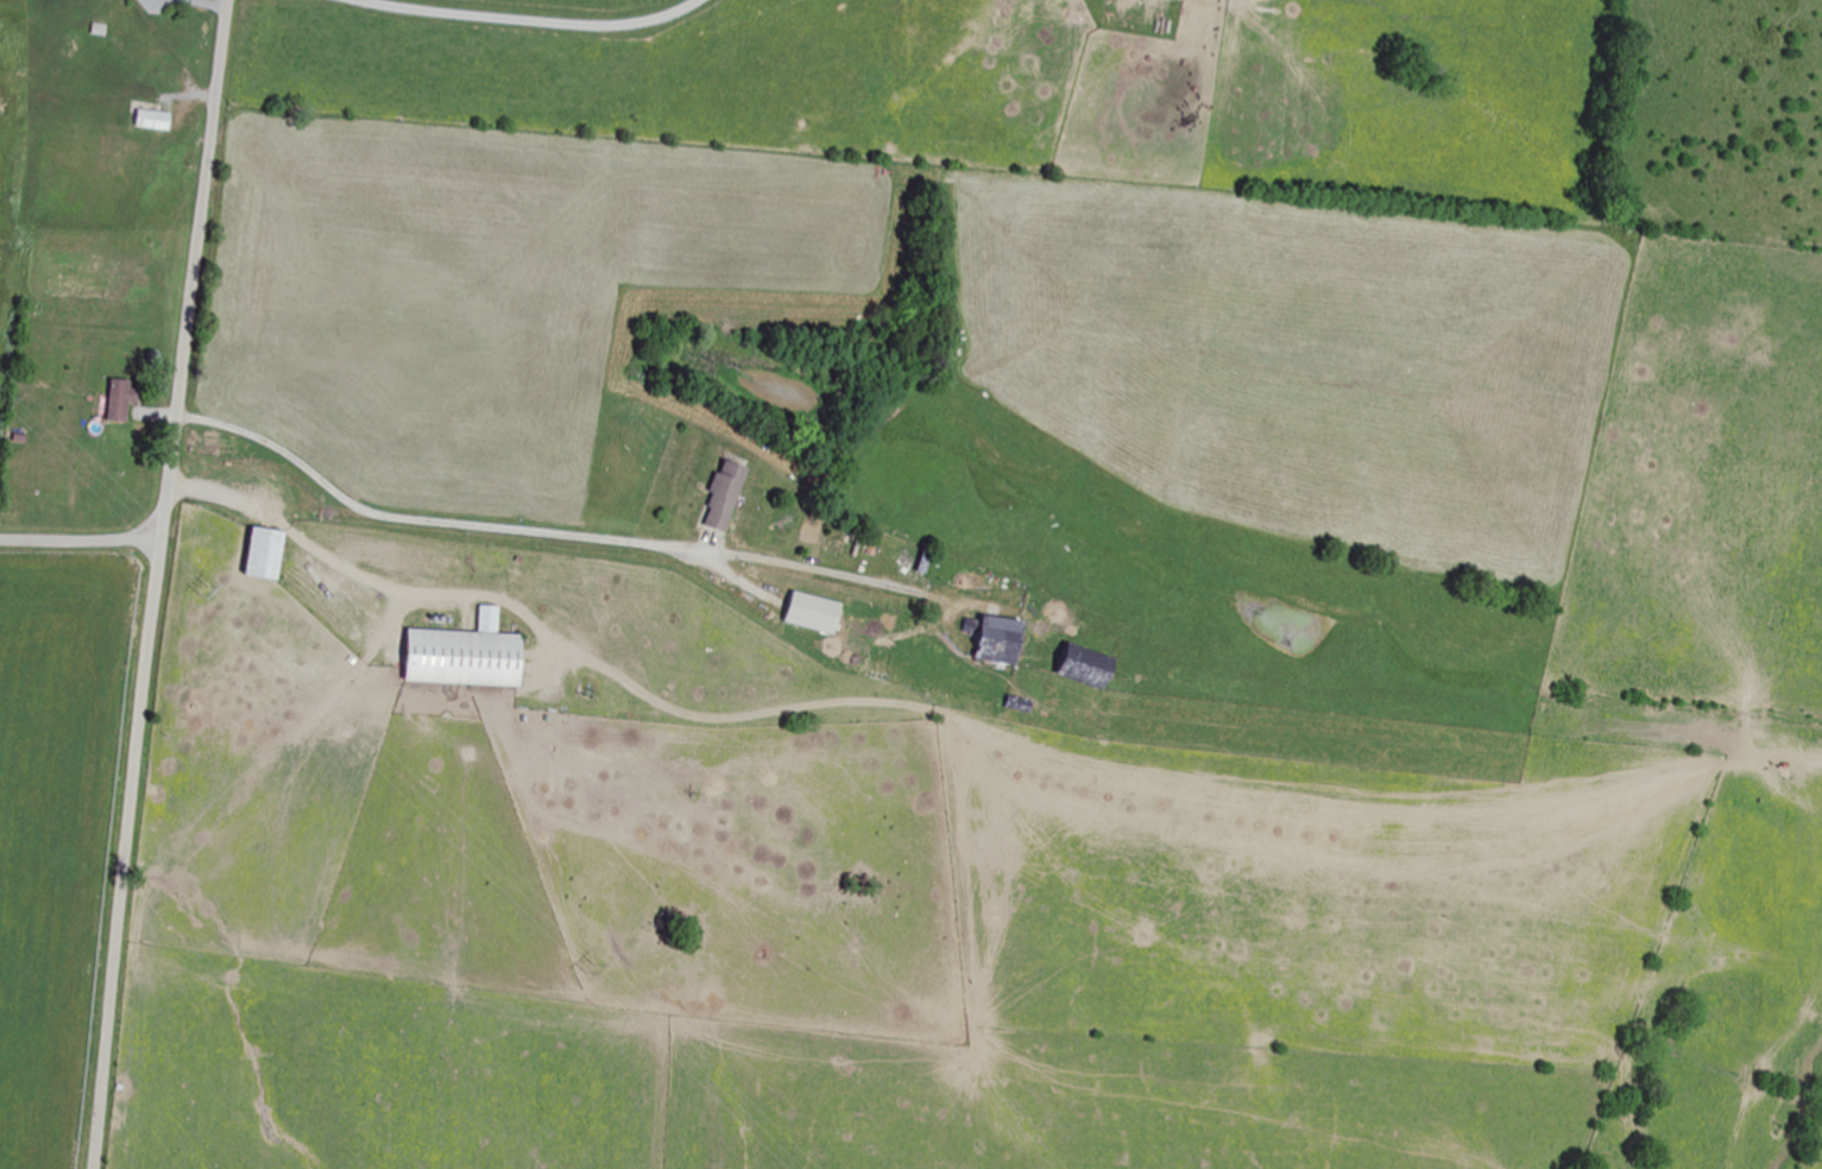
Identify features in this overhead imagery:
building: (157, 121)
building: (122, 400)
building: (727, 494)
road: (80, 541)
building: (270, 551)
road: (524, 560)
road: (156, 583)
building: (819, 611)
building: (1007, 638)
building: (472, 652)
building: (1093, 665)

